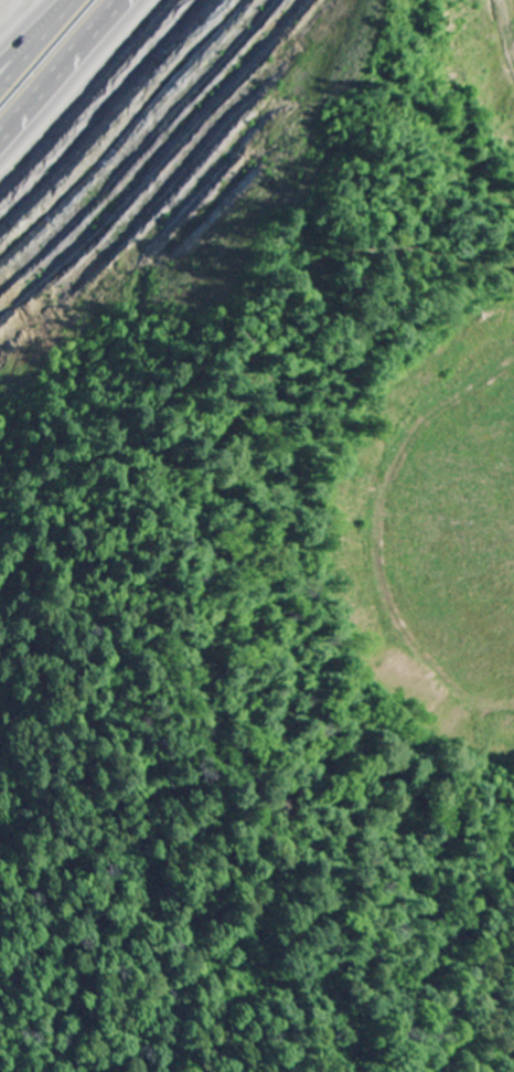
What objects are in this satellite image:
road: (53, 43)
road: (56, 61)
road: (79, 85)

